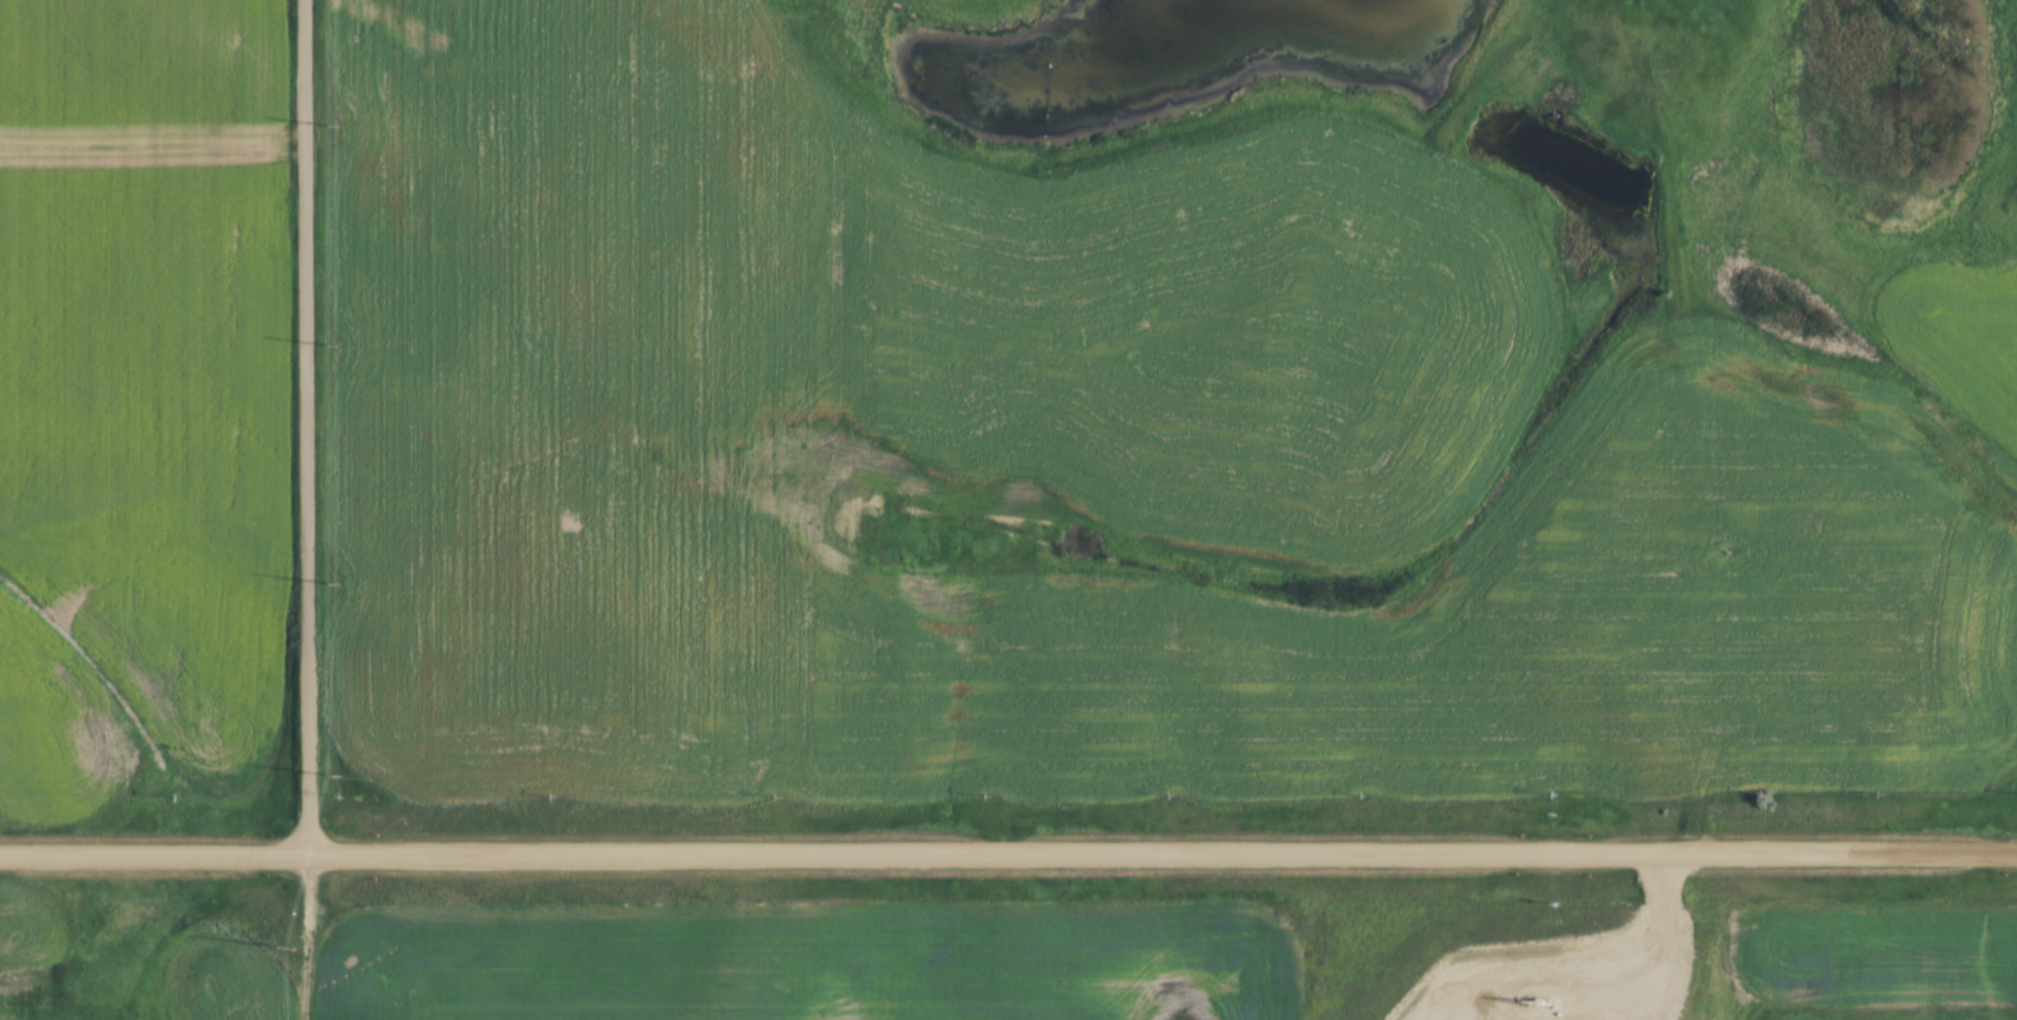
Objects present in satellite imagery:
road: (311, 428)
road: (1008, 854)
road: (308, 939)

